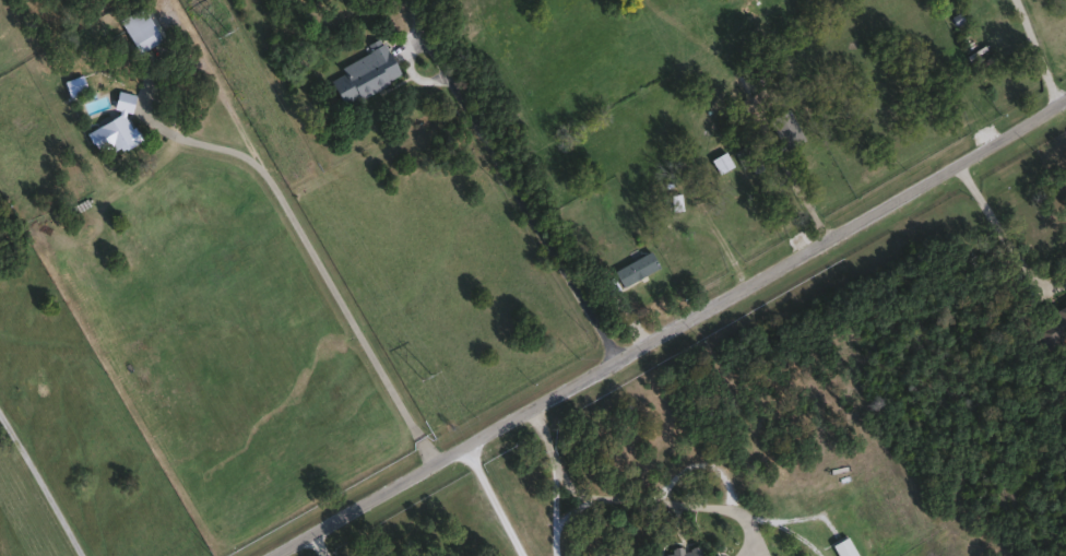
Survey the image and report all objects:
building: (956, 1)
building: (751, 5)
building: (138, 28)
road: (1042, 51)
building: (364, 73)
building: (785, 92)
building: (112, 128)
building: (784, 128)
building: (747, 157)
building: (720, 161)
road: (509, 182)
road: (802, 196)
road: (638, 222)
road: (1004, 232)
road: (317, 260)
building: (628, 272)
building: (1054, 327)
road: (672, 330)
road: (43, 483)
road: (498, 500)
road: (635, 502)
road: (555, 506)
road: (324, 544)
building: (683, 551)

